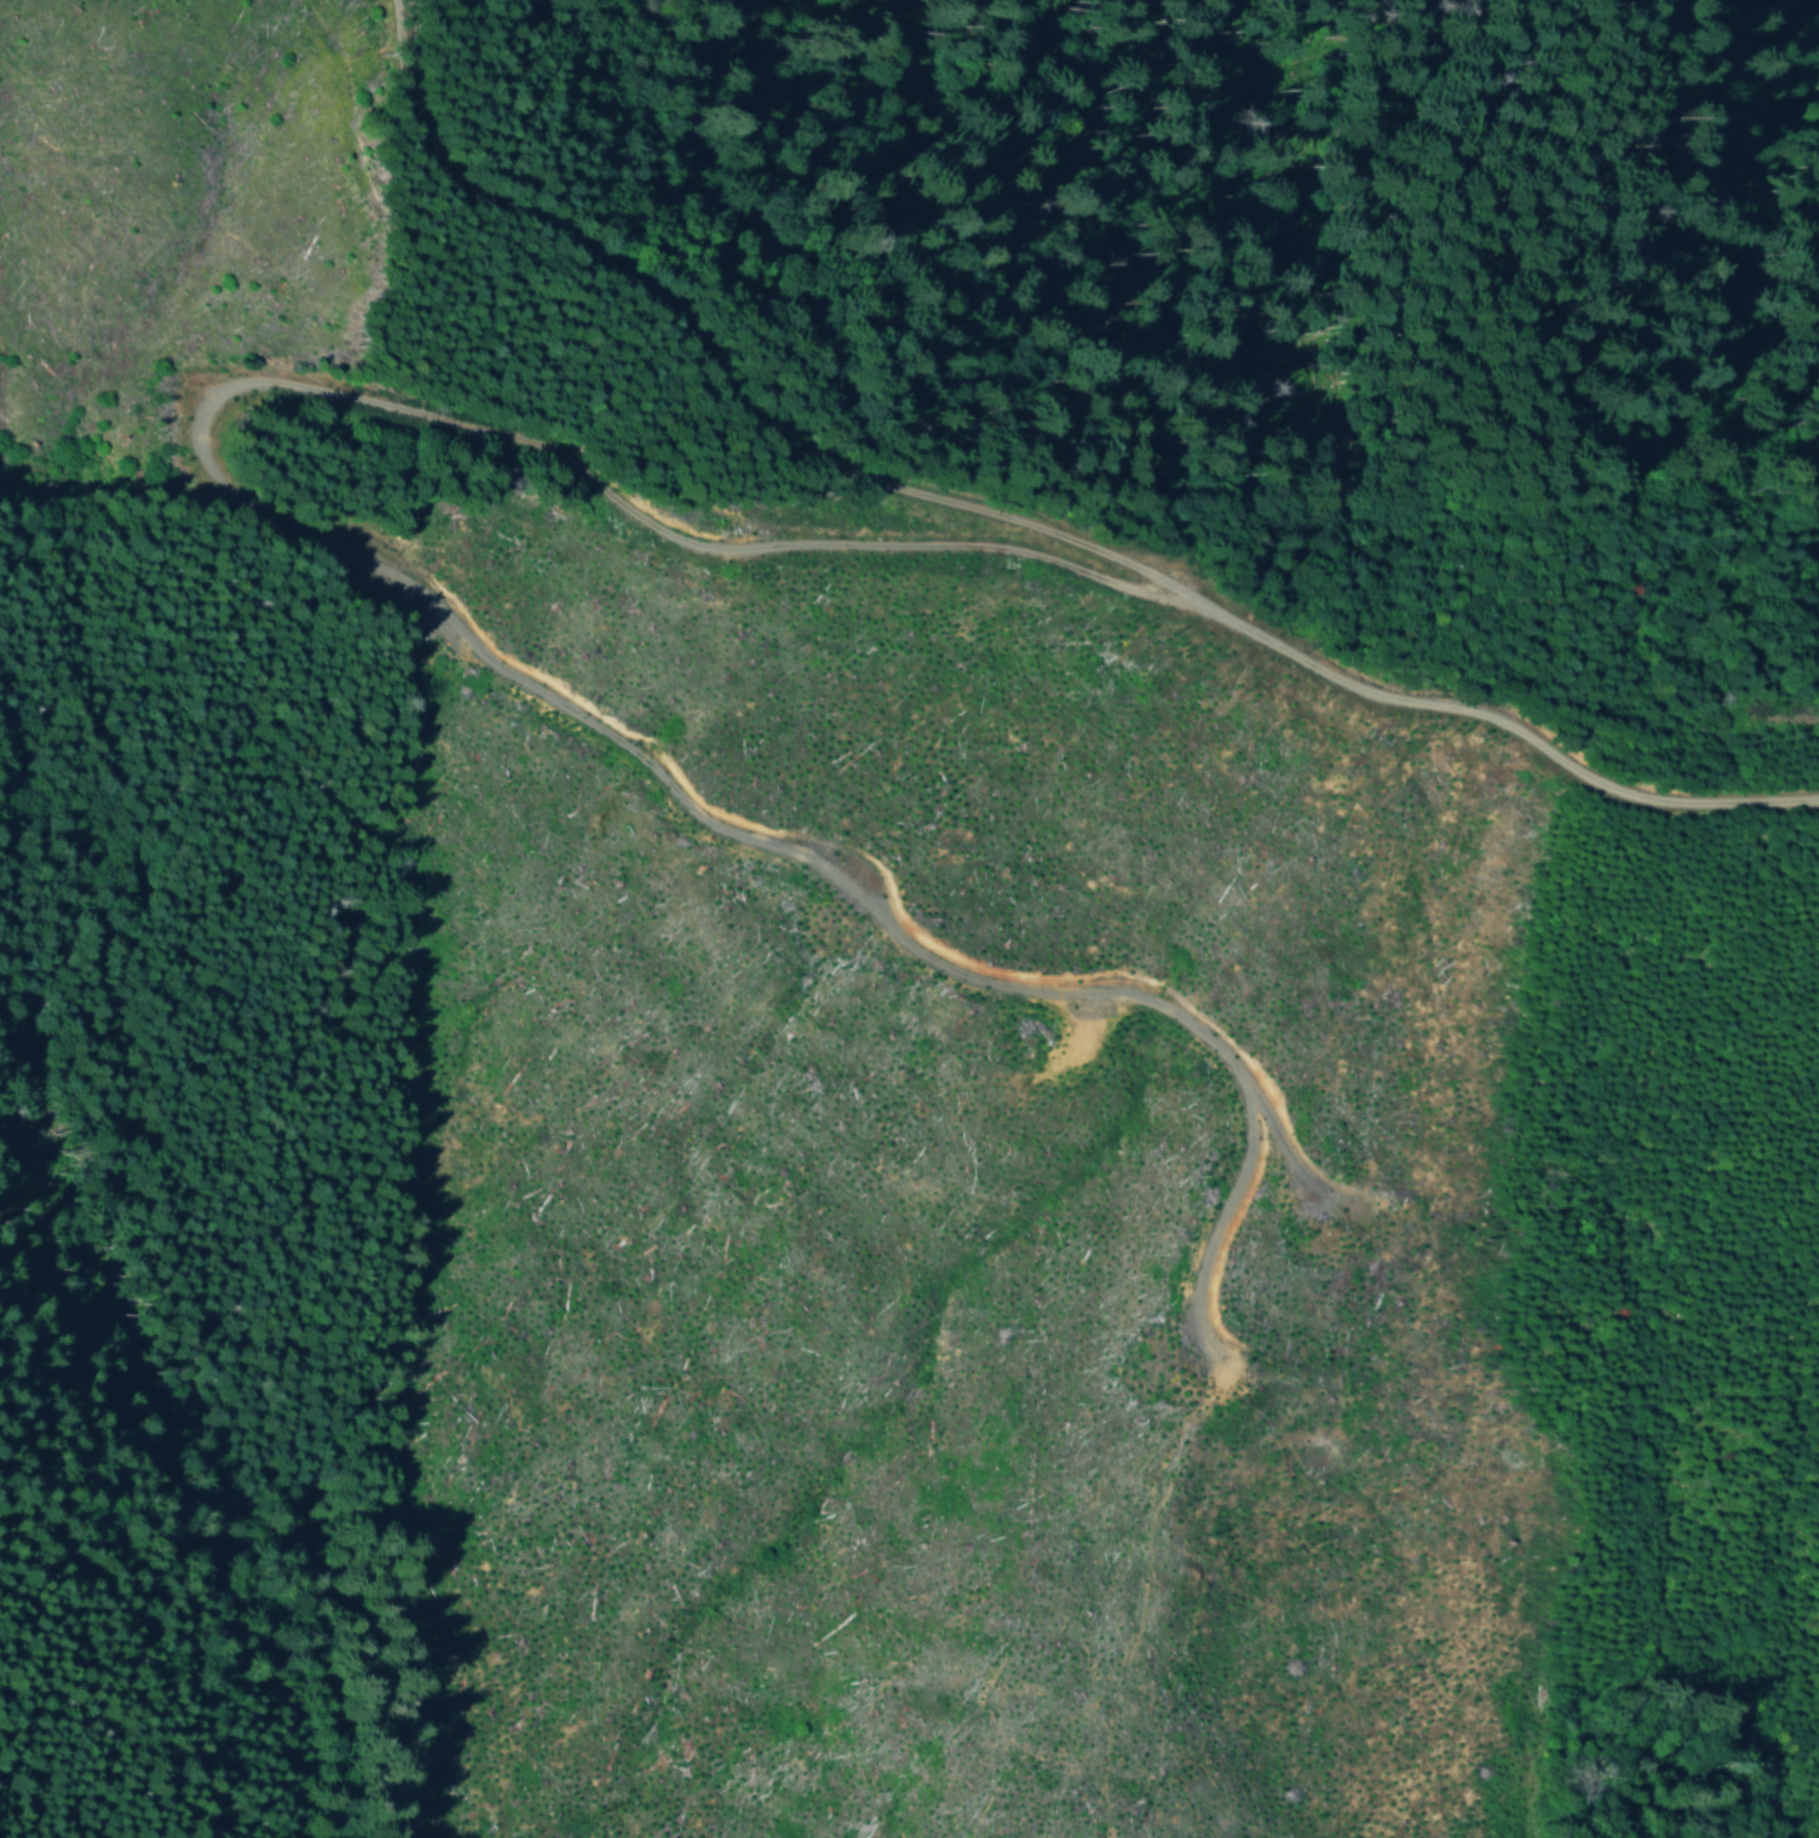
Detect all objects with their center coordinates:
road: (511, 453)
road: (1014, 520)
road: (1653, 1681)

